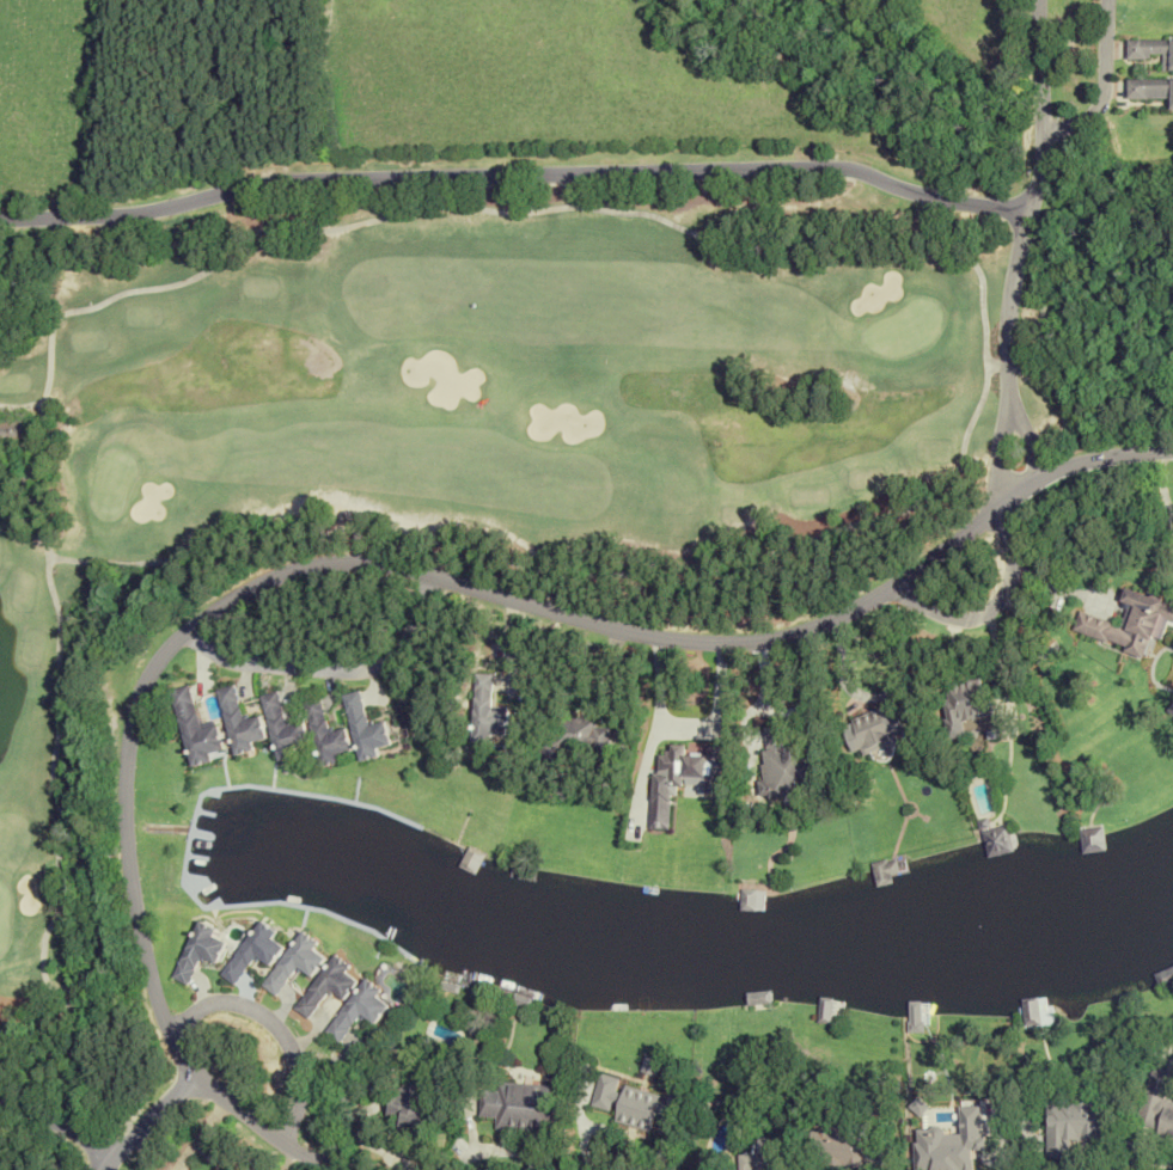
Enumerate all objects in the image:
building: (1153, 49)
road: (1108, 86)
building: (1150, 87)
road: (515, 173)
road: (1028, 208)
road: (1022, 427)
building: (14, 429)
road: (1040, 457)
road: (997, 460)
road: (384, 564)
road: (992, 607)
building: (1129, 624)
road: (331, 669)
building: (964, 704)
building: (487, 707)
building: (1100, 717)
building: (239, 721)
building: (197, 727)
building: (282, 727)
building: (363, 728)
building: (873, 730)
building: (326, 734)
building: (572, 736)
building: (788, 764)
building: (1092, 840)
building: (997, 841)
building: (885, 870)
building: (749, 900)
building: (198, 951)
building: (253, 954)
building: (297, 962)
building: (1163, 978)
building: (328, 986)
building: (360, 1010)
building: (829, 1010)
building: (1030, 1011)
road: (277, 1027)
building: (635, 1103)
building: (413, 1107)
building: (520, 1107)
building: (1156, 1107)
road: (149, 1119)
road: (59, 1123)
building: (1073, 1125)
building: (833, 1147)
building: (763, 1156)
building: (190, 1169)

